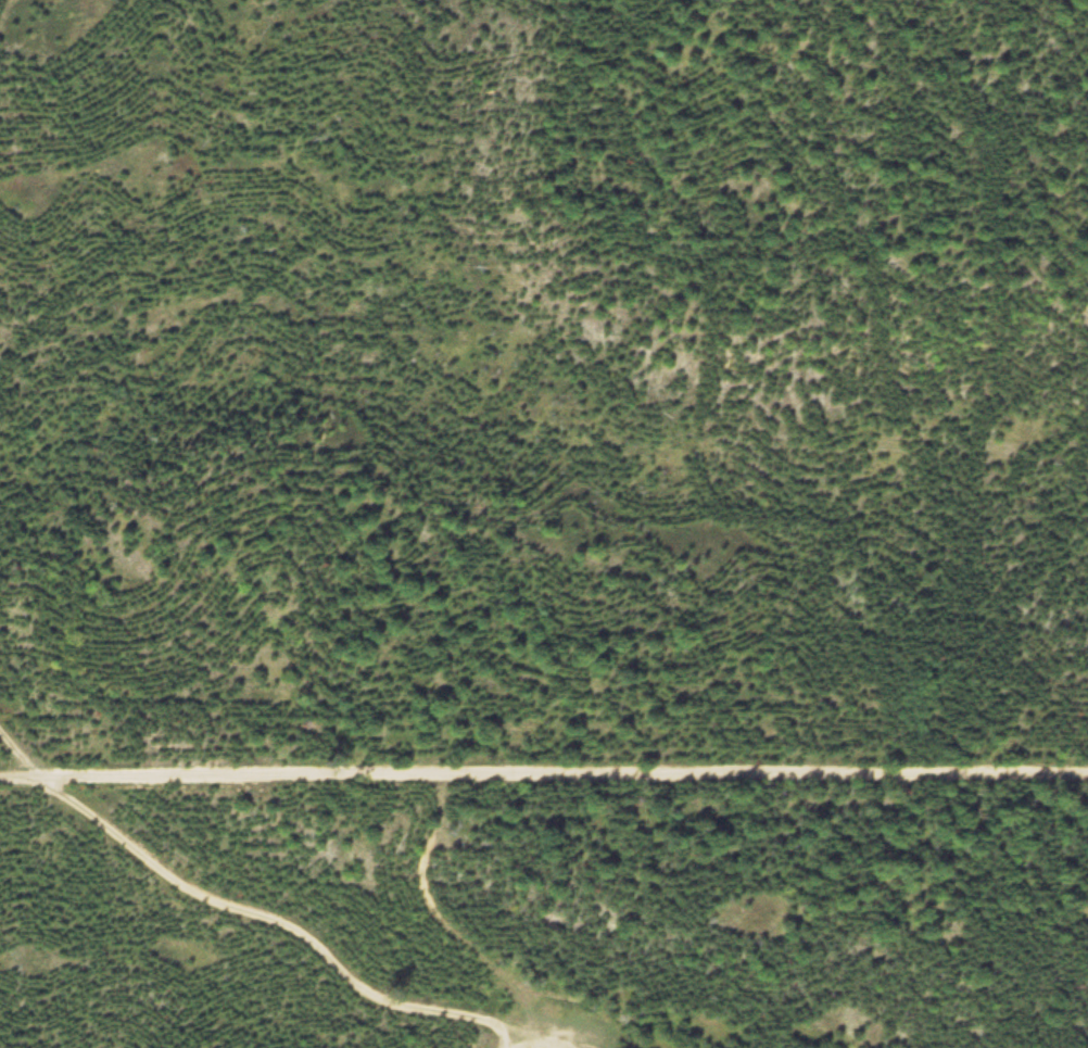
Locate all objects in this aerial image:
road: (543, 775)
road: (244, 908)
road: (572, 1038)

